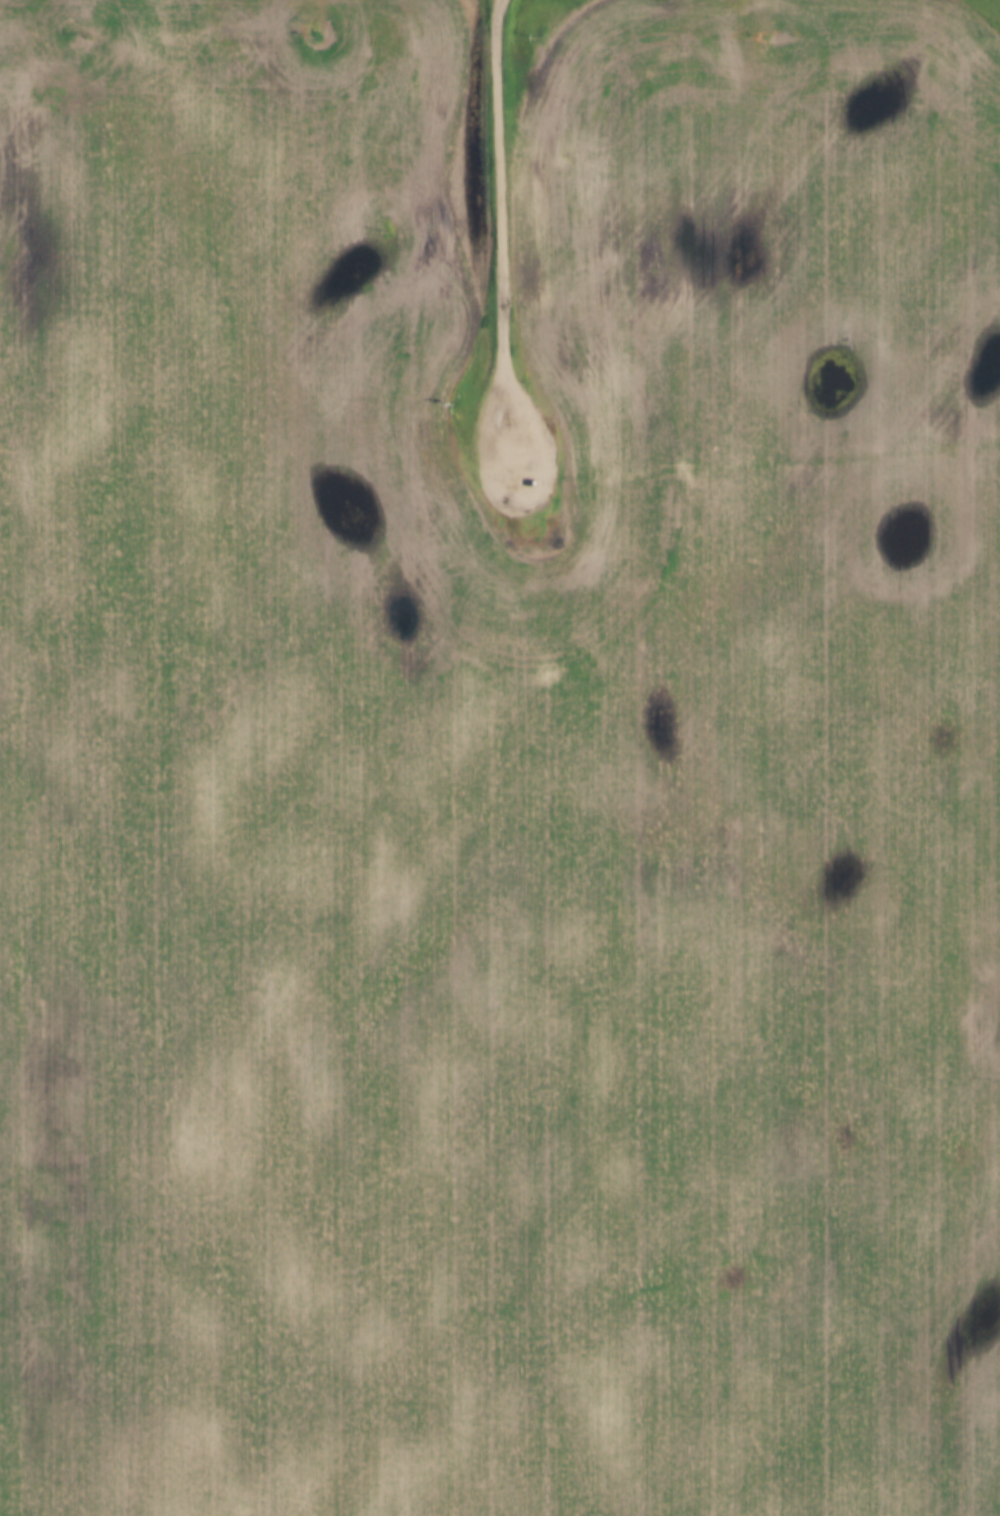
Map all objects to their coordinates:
road: (502, 189)

